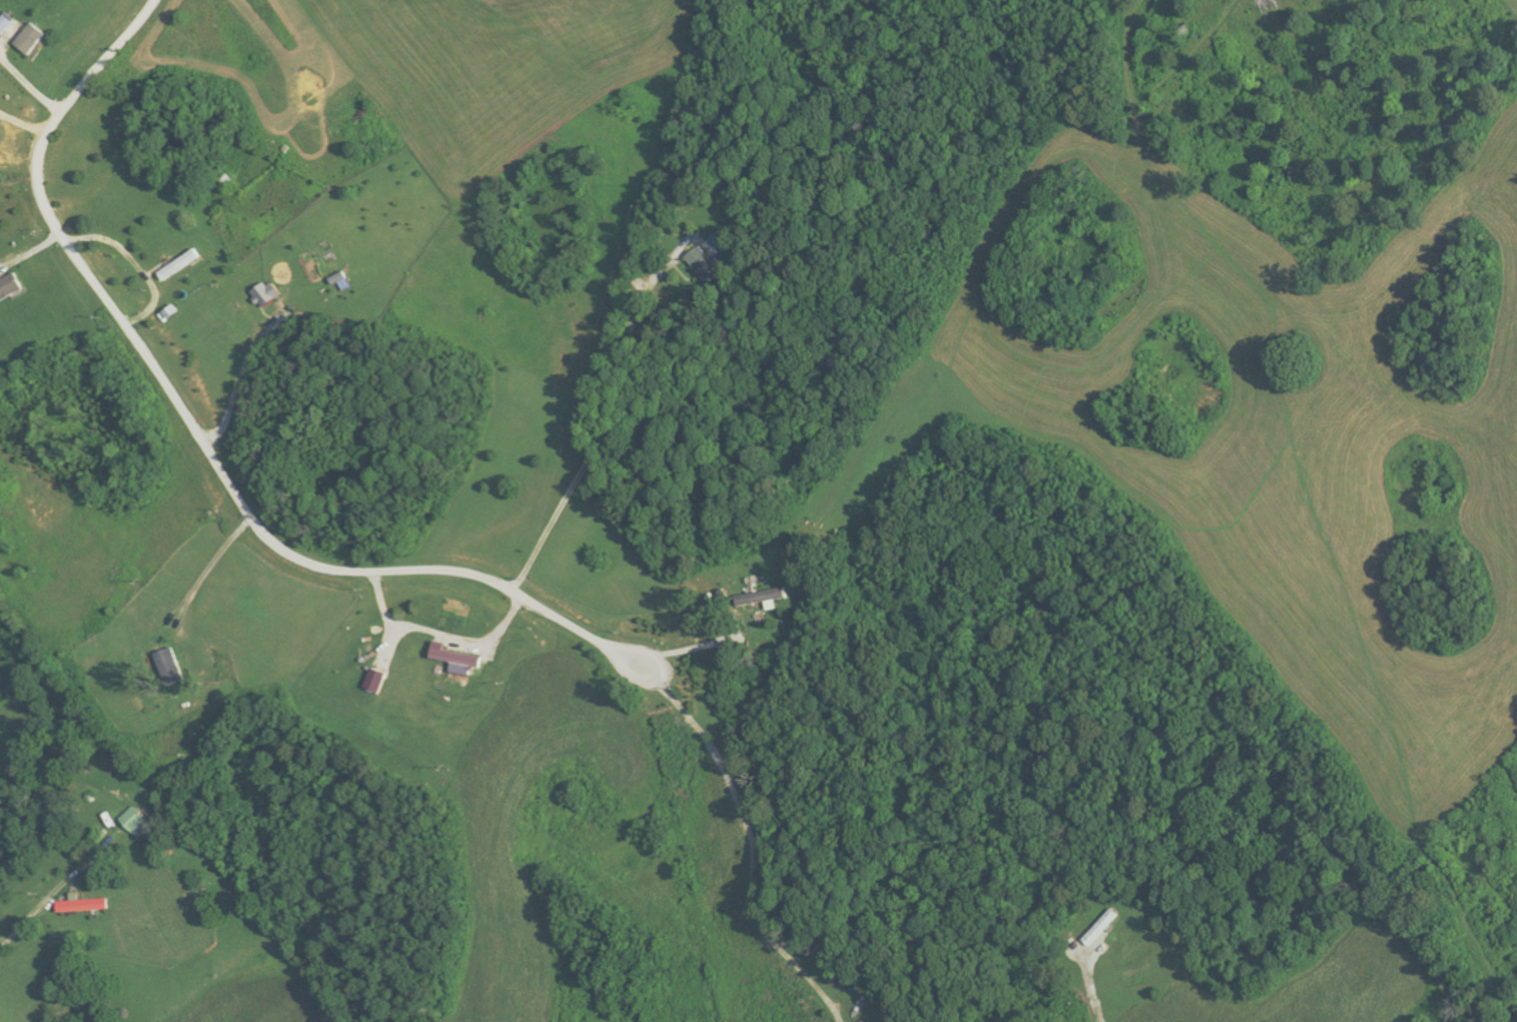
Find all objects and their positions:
building: (6, 24)
building: (33, 39)
road: (25, 121)
road: (137, 263)
building: (706, 265)
building: (11, 288)
building: (268, 294)
road: (240, 382)
road: (188, 416)
road: (596, 439)
road: (210, 568)
building: (763, 595)
road: (698, 646)
road: (641, 653)
building: (459, 660)
building: (171, 666)
road: (624, 672)
building: (377, 680)
building: (138, 822)
road: (753, 855)
road: (42, 904)
building: (85, 904)
road: (1088, 990)

